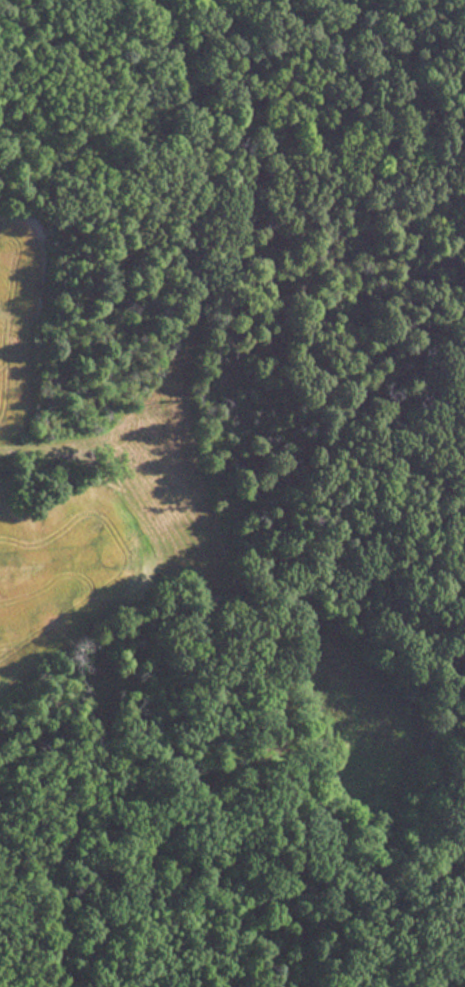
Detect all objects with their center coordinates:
park: (463, 52)
crop: (14, 312)
crop: (55, 564)

